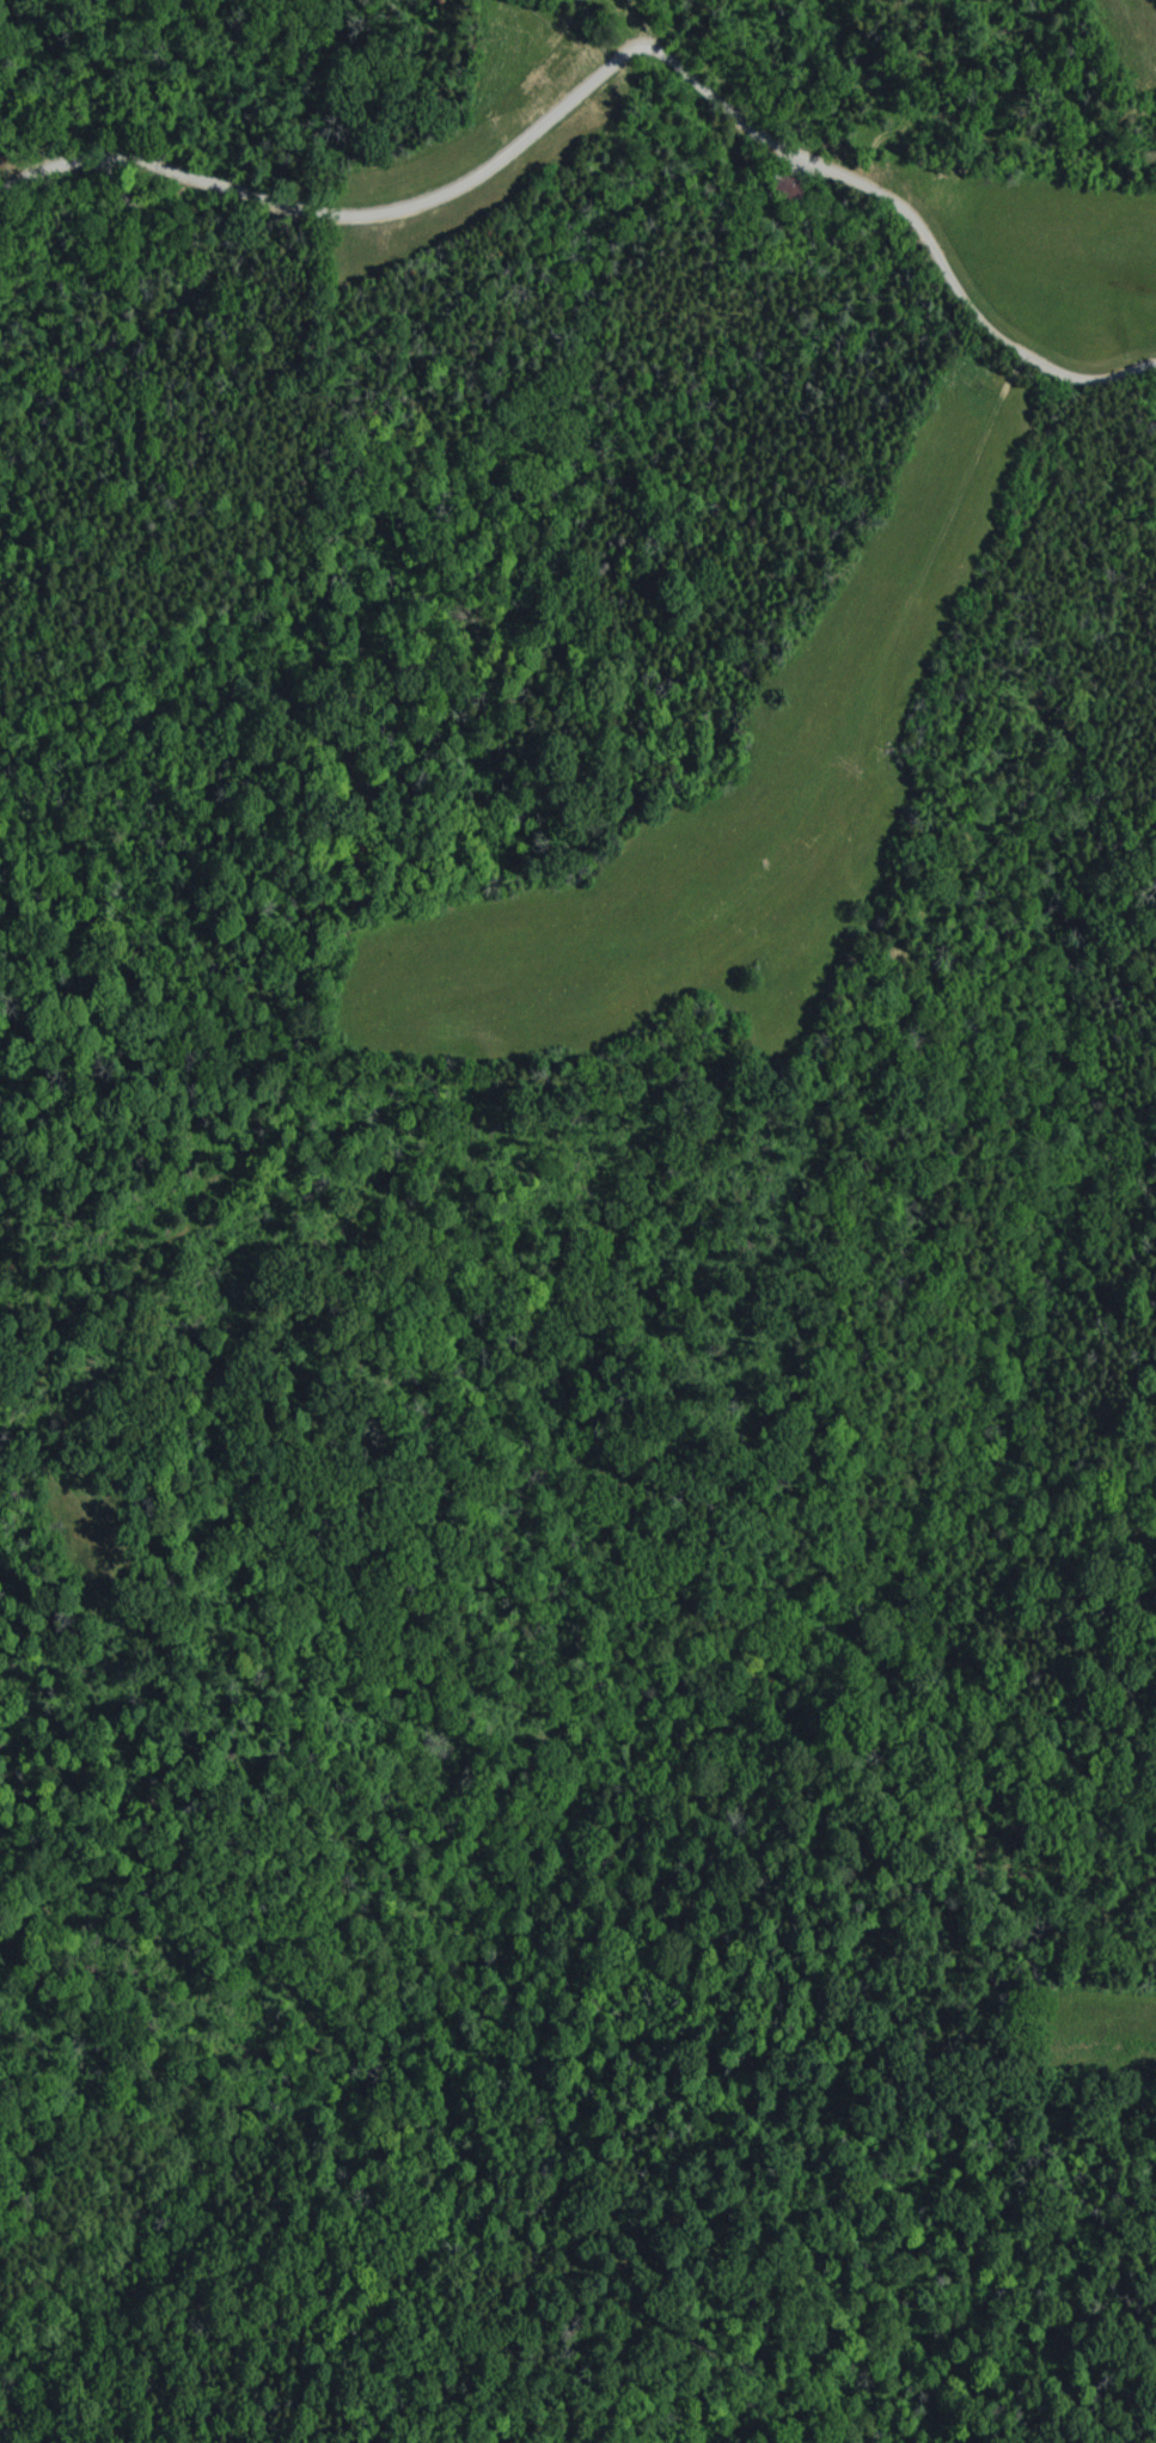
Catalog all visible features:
road: (911, 183)
road: (332, 199)

